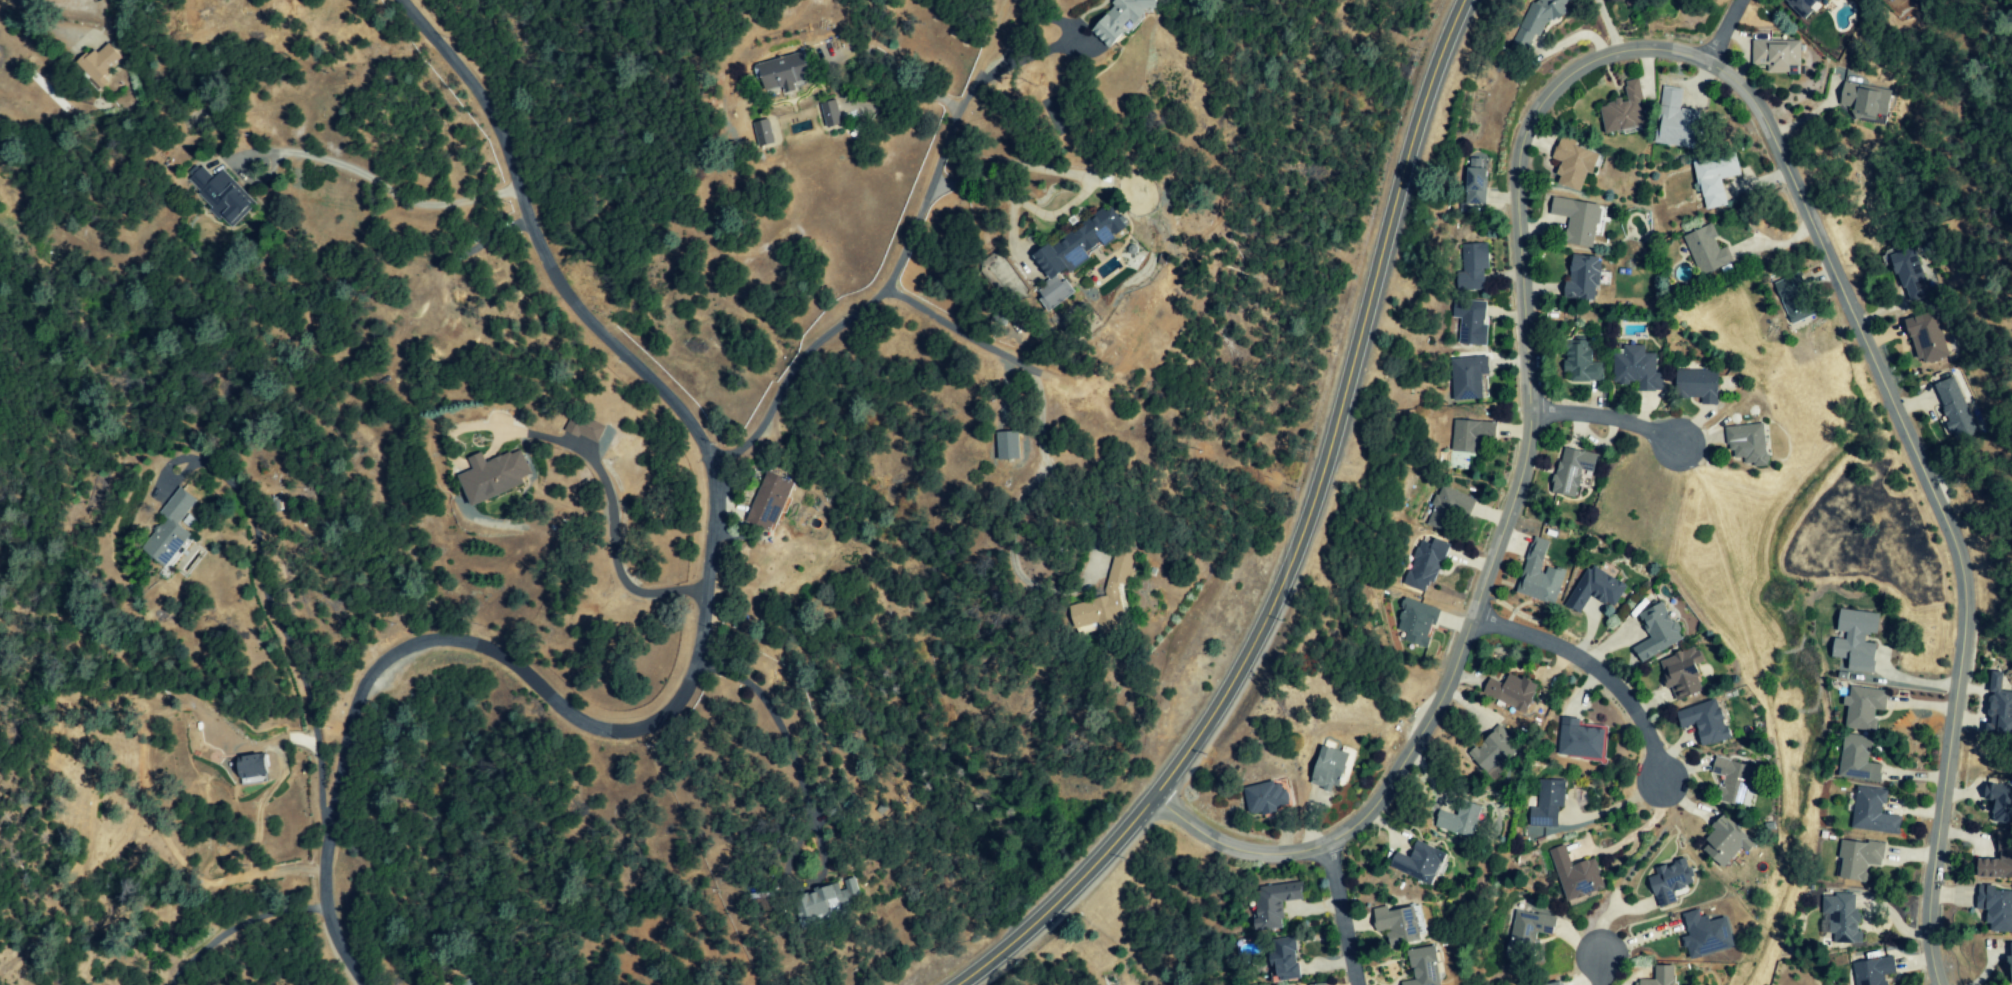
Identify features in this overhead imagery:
building: (1805, 6)
building: (1545, 14)
building: (1125, 18)
road: (1719, 30)
building: (1522, 41)
road: (1054, 45)
building: (1777, 56)
building: (102, 64)
building: (785, 73)
building: (1867, 101)
building: (1625, 111)
building: (832, 114)
building: (1680, 122)
building: (763, 133)
building: (1576, 164)
road: (1014, 171)
building: (1717, 179)
building: (1477, 187)
road: (385, 190)
building: (223, 196)
building: (1579, 221)
building: (1707, 250)
building: (1075, 255)
road: (897, 260)
building: (1474, 266)
building: (1910, 275)
building: (1584, 277)
building: (1795, 298)
building: (1471, 322)
road: (1528, 328)
road: (958, 332)
building: (1927, 337)
road: (1871, 358)
building: (1583, 362)
building: (1637, 369)
building: (1468, 377)
building: (1698, 385)
building: (1956, 408)
road: (1605, 423)
building: (587, 428)
building: (1468, 437)
building: (1749, 443)
building: (1008, 446)
road: (1323, 462)
building: (1573, 471)
building: (494, 477)
building: (771, 502)
building: (1449, 508)
building: (171, 529)
road: (613, 548)
building: (1428, 565)
building: (1542, 575)
building: (1597, 590)
building: (1107, 597)
road: (267, 600)
building: (1418, 623)
building: (1657, 632)
building: (1851, 639)
road: (702, 648)
building: (1684, 674)
road: (1595, 676)
building: (1512, 691)
building: (1861, 707)
building: (1996, 708)
building: (1707, 722)
road: (782, 736)
building: (1583, 743)
road: (1418, 751)
building: (1494, 751)
building: (1854, 759)
building: (255, 767)
building: (1330, 768)
building: (1728, 780)
building: (1268, 799)
building: (1997, 800)
building: (1549, 804)
building: (1869, 812)
building: (1462, 820)
building: (1721, 841)
building: (1855, 859)
building: (1997, 859)
building: (1422, 863)
building: (1575, 876)
building: (1666, 880)
road: (1075, 881)
building: (828, 900)
building: (1274, 904)
building: (1994, 907)
building: (1838, 918)
road: (1343, 923)
building: (1399, 926)
building: (1527, 929)
building: (1703, 934)
road: (1013, 939)
building: (1286, 959)
building: (2008, 965)
building: (1426, 967)
building: (1872, 970)
road: (1595, 972)
building: (1656, 976)
building: (1322, 984)
building: (1550, 984)

